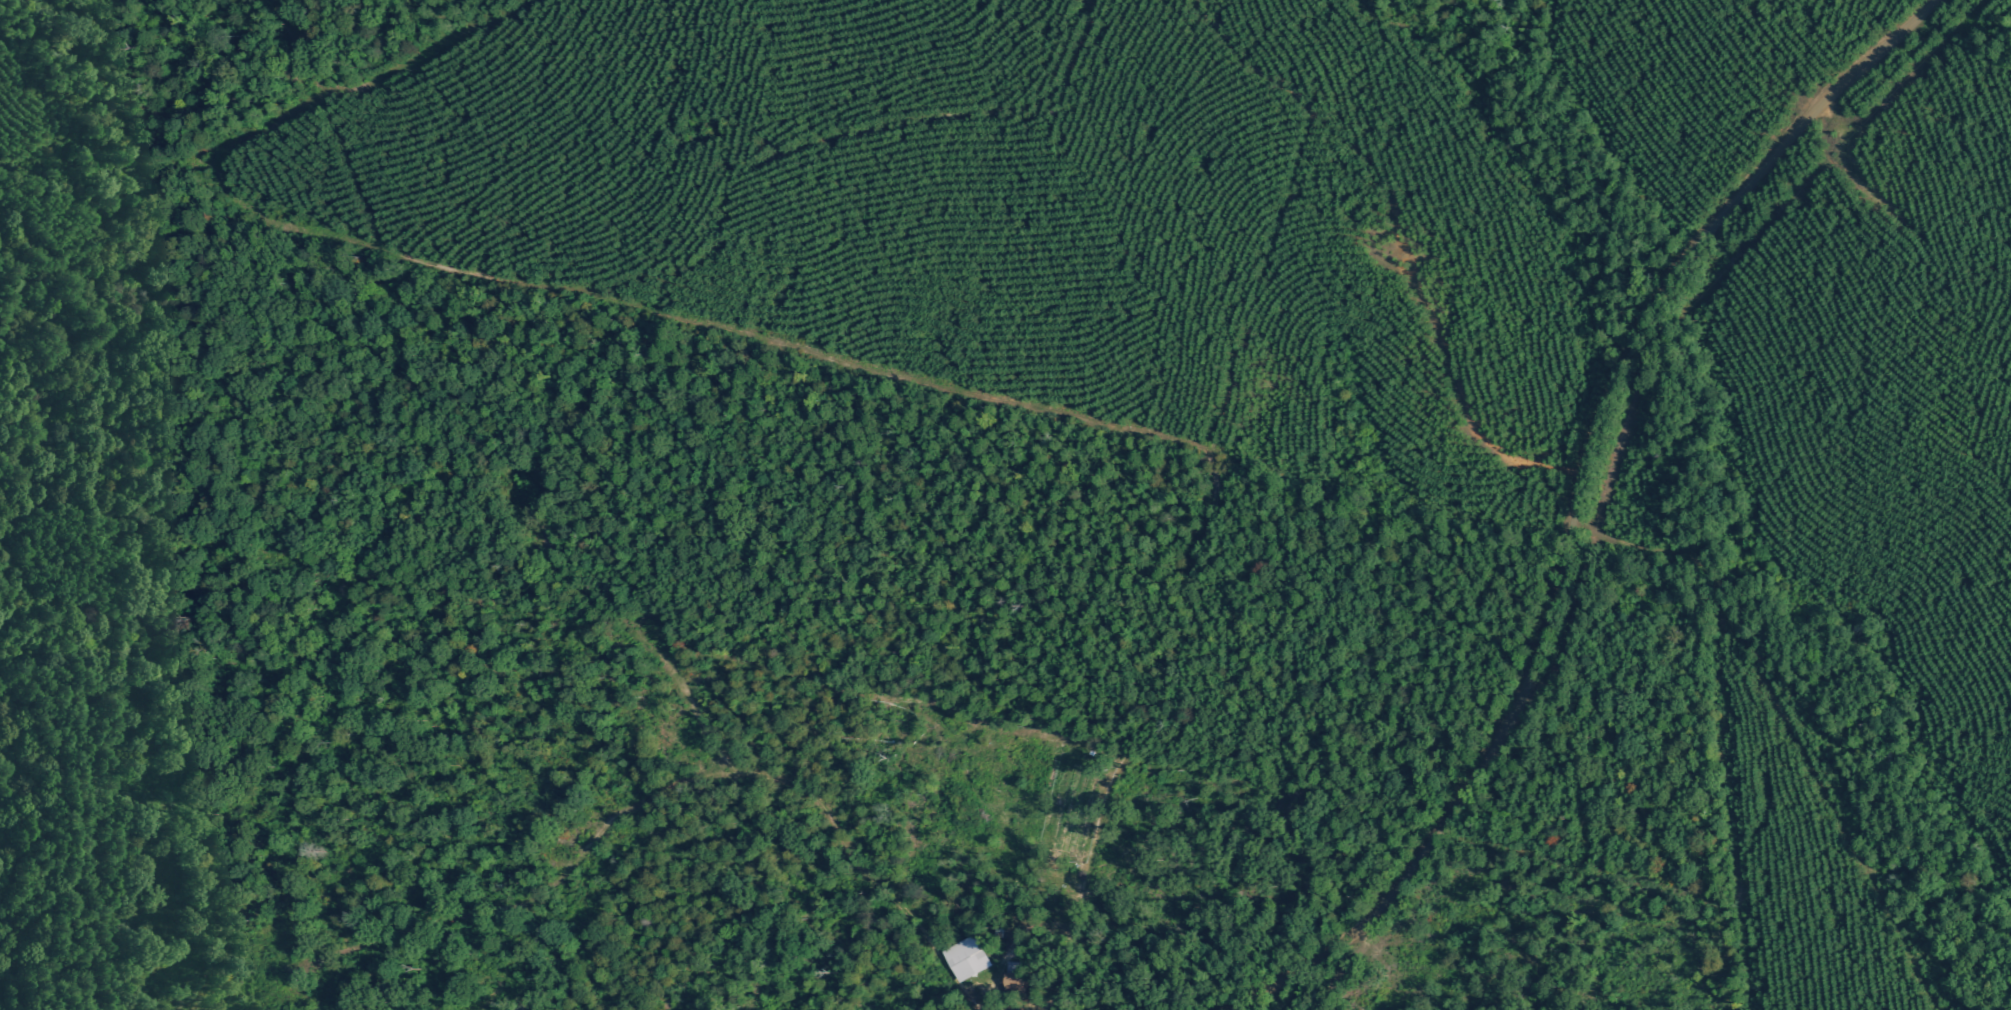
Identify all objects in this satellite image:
road: (1404, 206)
road: (1586, 504)
building: (967, 959)

